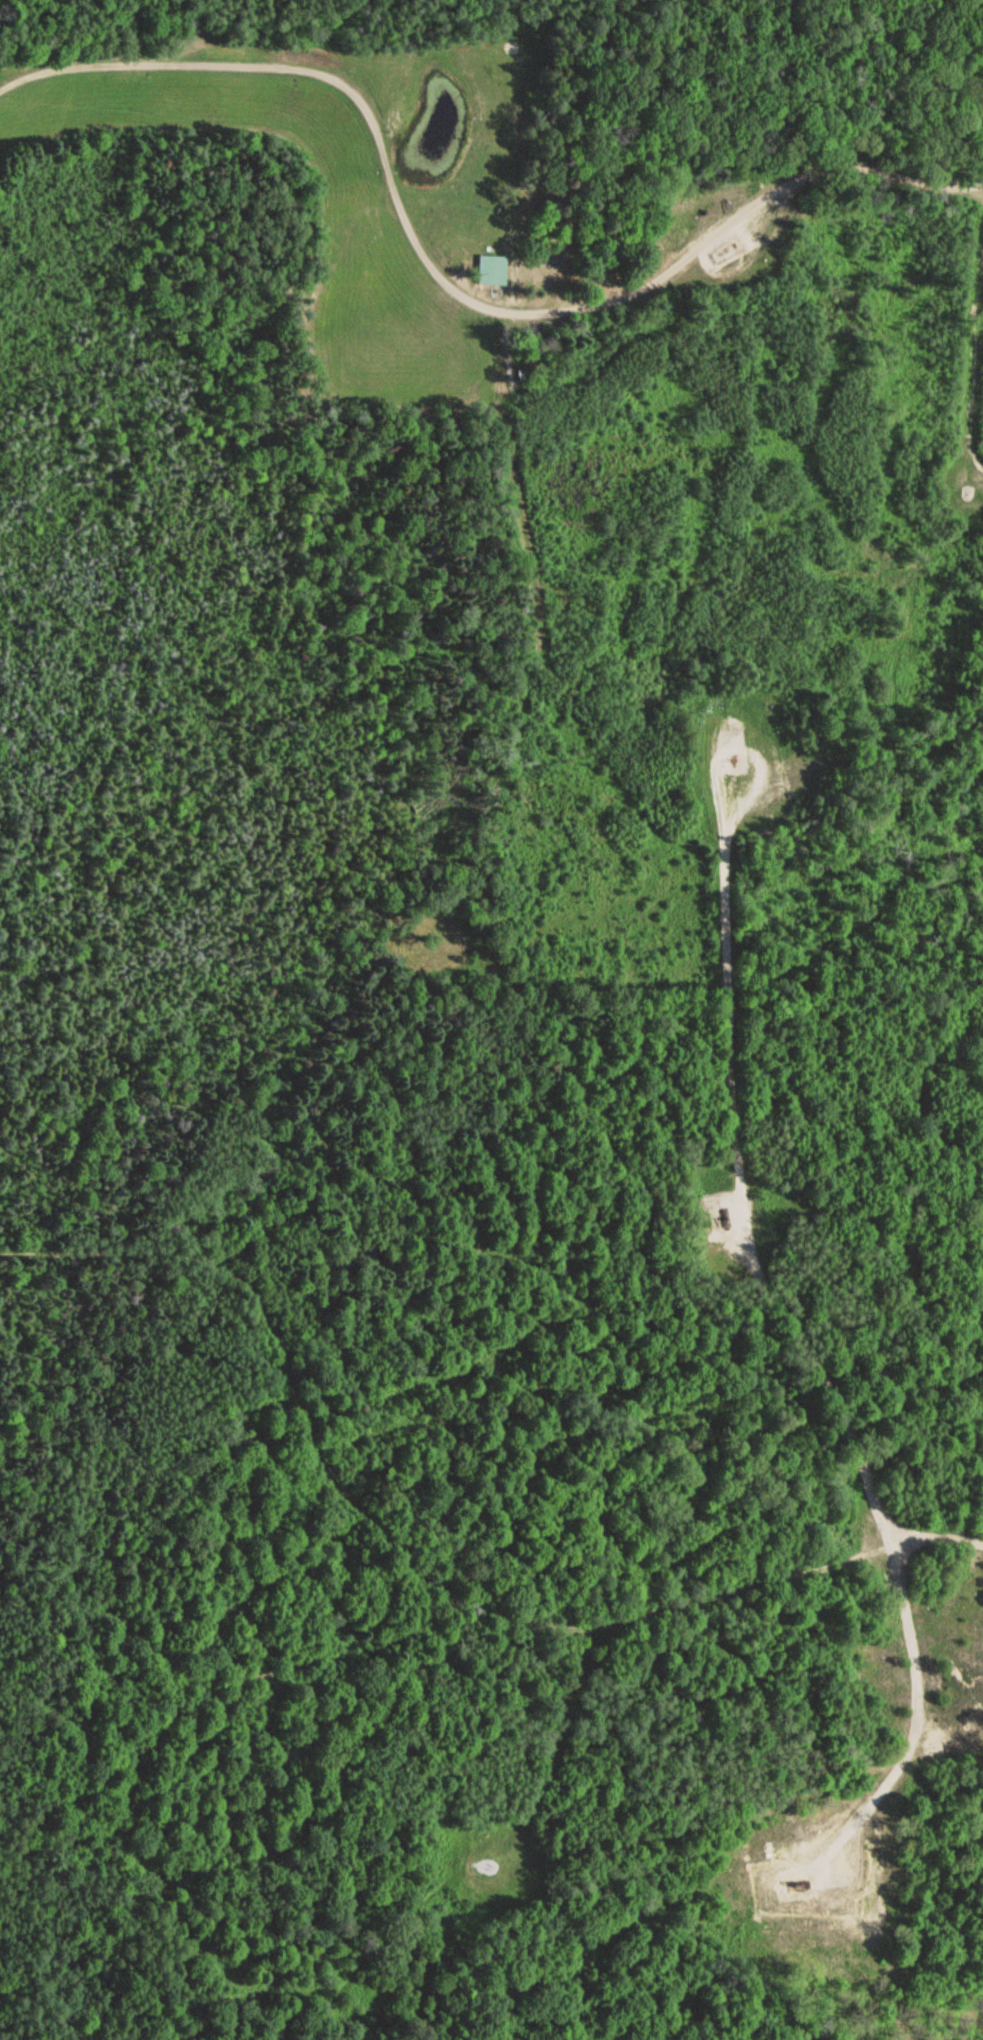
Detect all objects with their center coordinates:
petroleum well: (721, 246)
building: (488, 271)
road: (444, 301)
road: (737, 1191)
petroleum well: (718, 1222)
road: (426, 1588)
road: (555, 1725)
petroleum well: (796, 1886)

